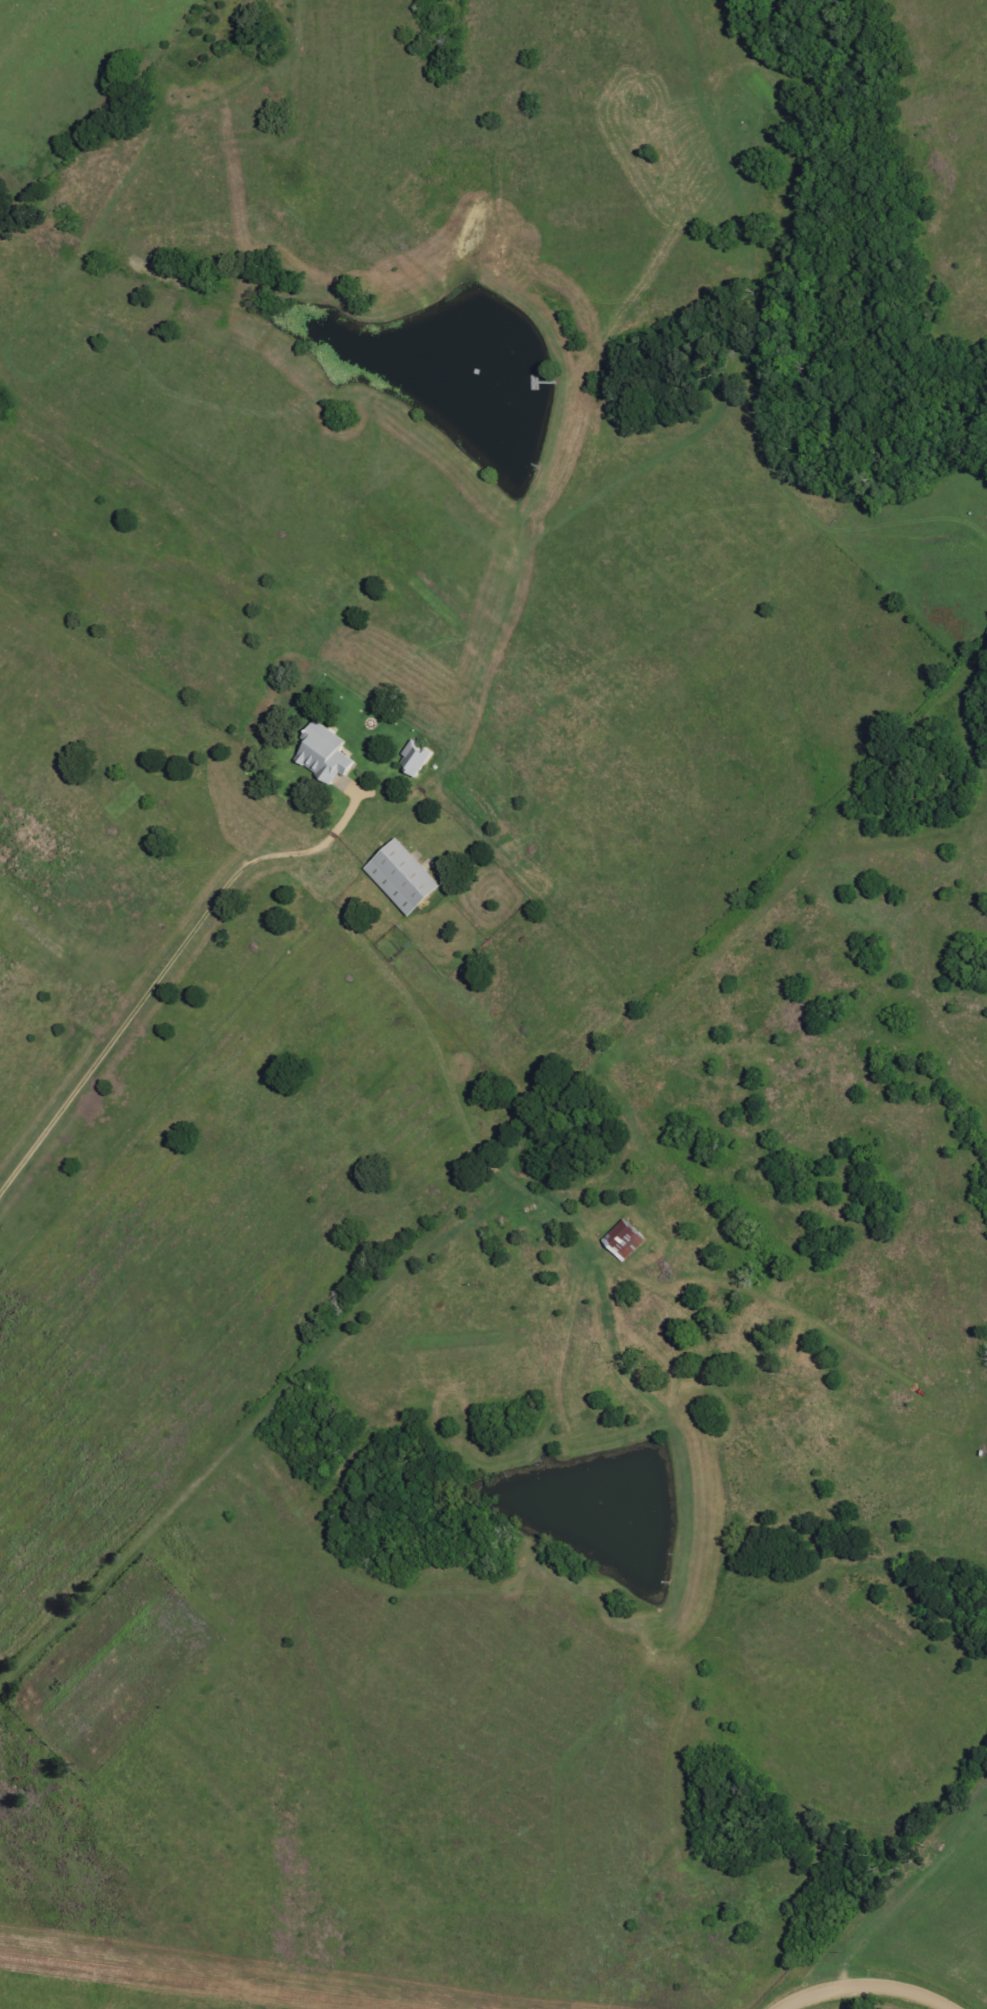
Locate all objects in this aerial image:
building: (327, 753)
building: (417, 758)
building: (405, 877)
road: (143, 999)
building: (624, 1240)
road: (871, 1986)

